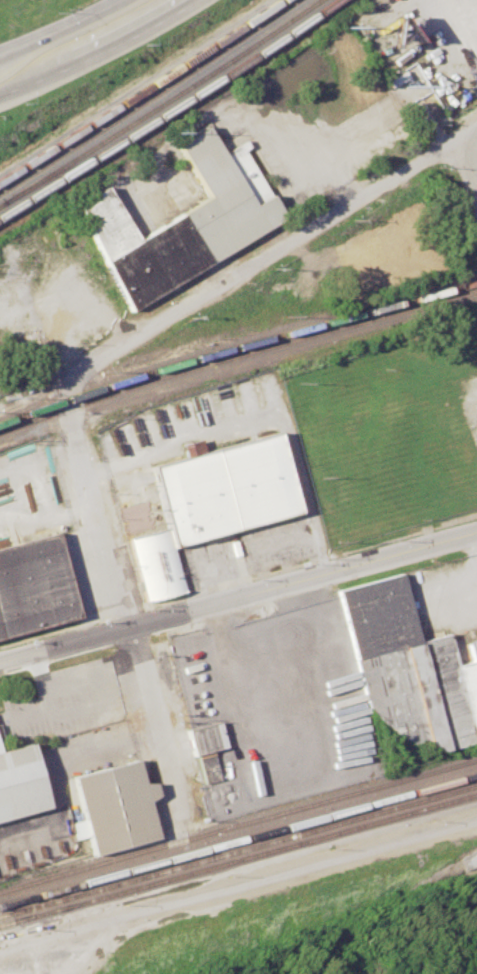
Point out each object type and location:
road: (475, 3)
road: (57, 27)
road: (98, 50)
railway: (138, 90)
railway: (148, 97)
railway: (159, 104)
railway: (169, 109)
road: (322, 158)
railway: (72, 165)
building: (182, 219)
road: (265, 255)
railway: (236, 345)
railway: (236, 355)
road: (264, 413)
building: (209, 503)
road: (472, 549)
building: (32, 585)
road: (238, 597)
road: (128, 603)
building: (409, 668)
building: (206, 738)
building: (208, 766)
road: (58, 768)
building: (19, 781)
building: (117, 807)
railway: (238, 824)
railway: (238, 840)
railway: (238, 851)
railway: (239, 861)
building: (473, 972)

